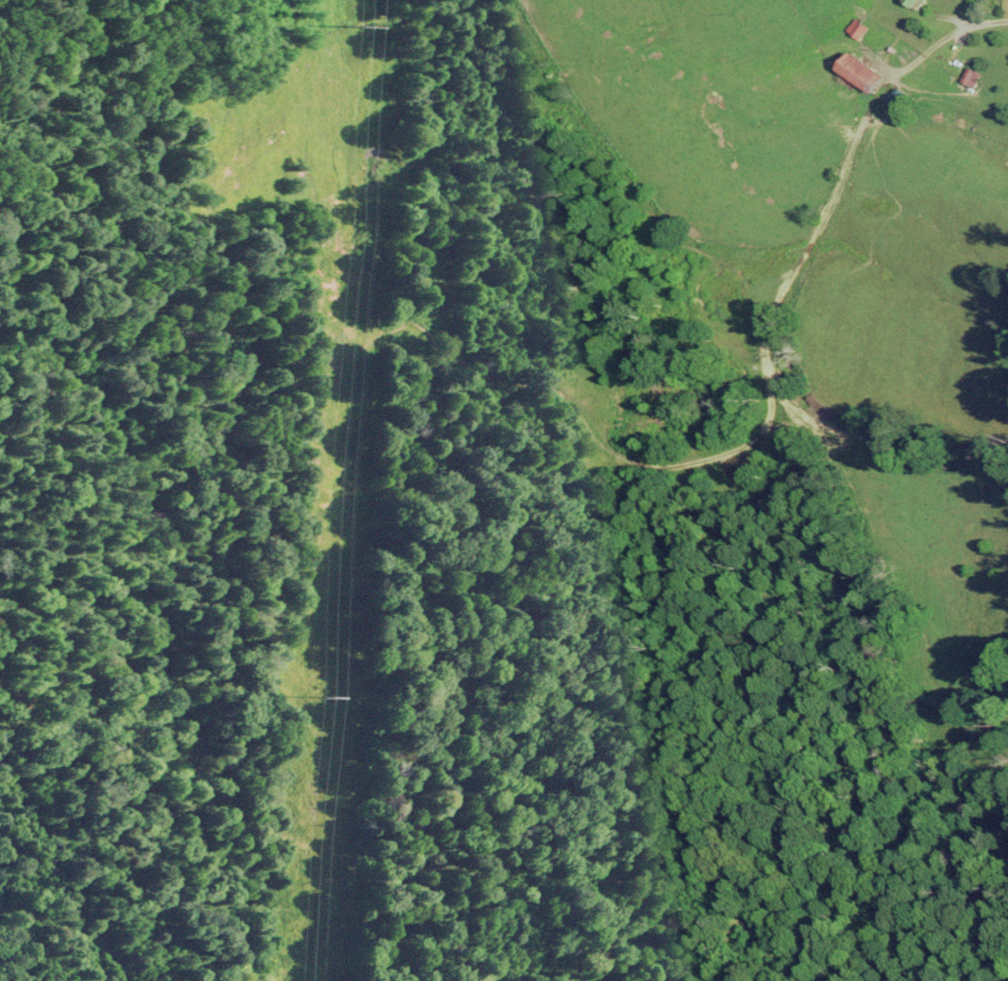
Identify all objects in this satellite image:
building: (857, 26)
road: (957, 38)
building: (863, 72)
building: (972, 75)

